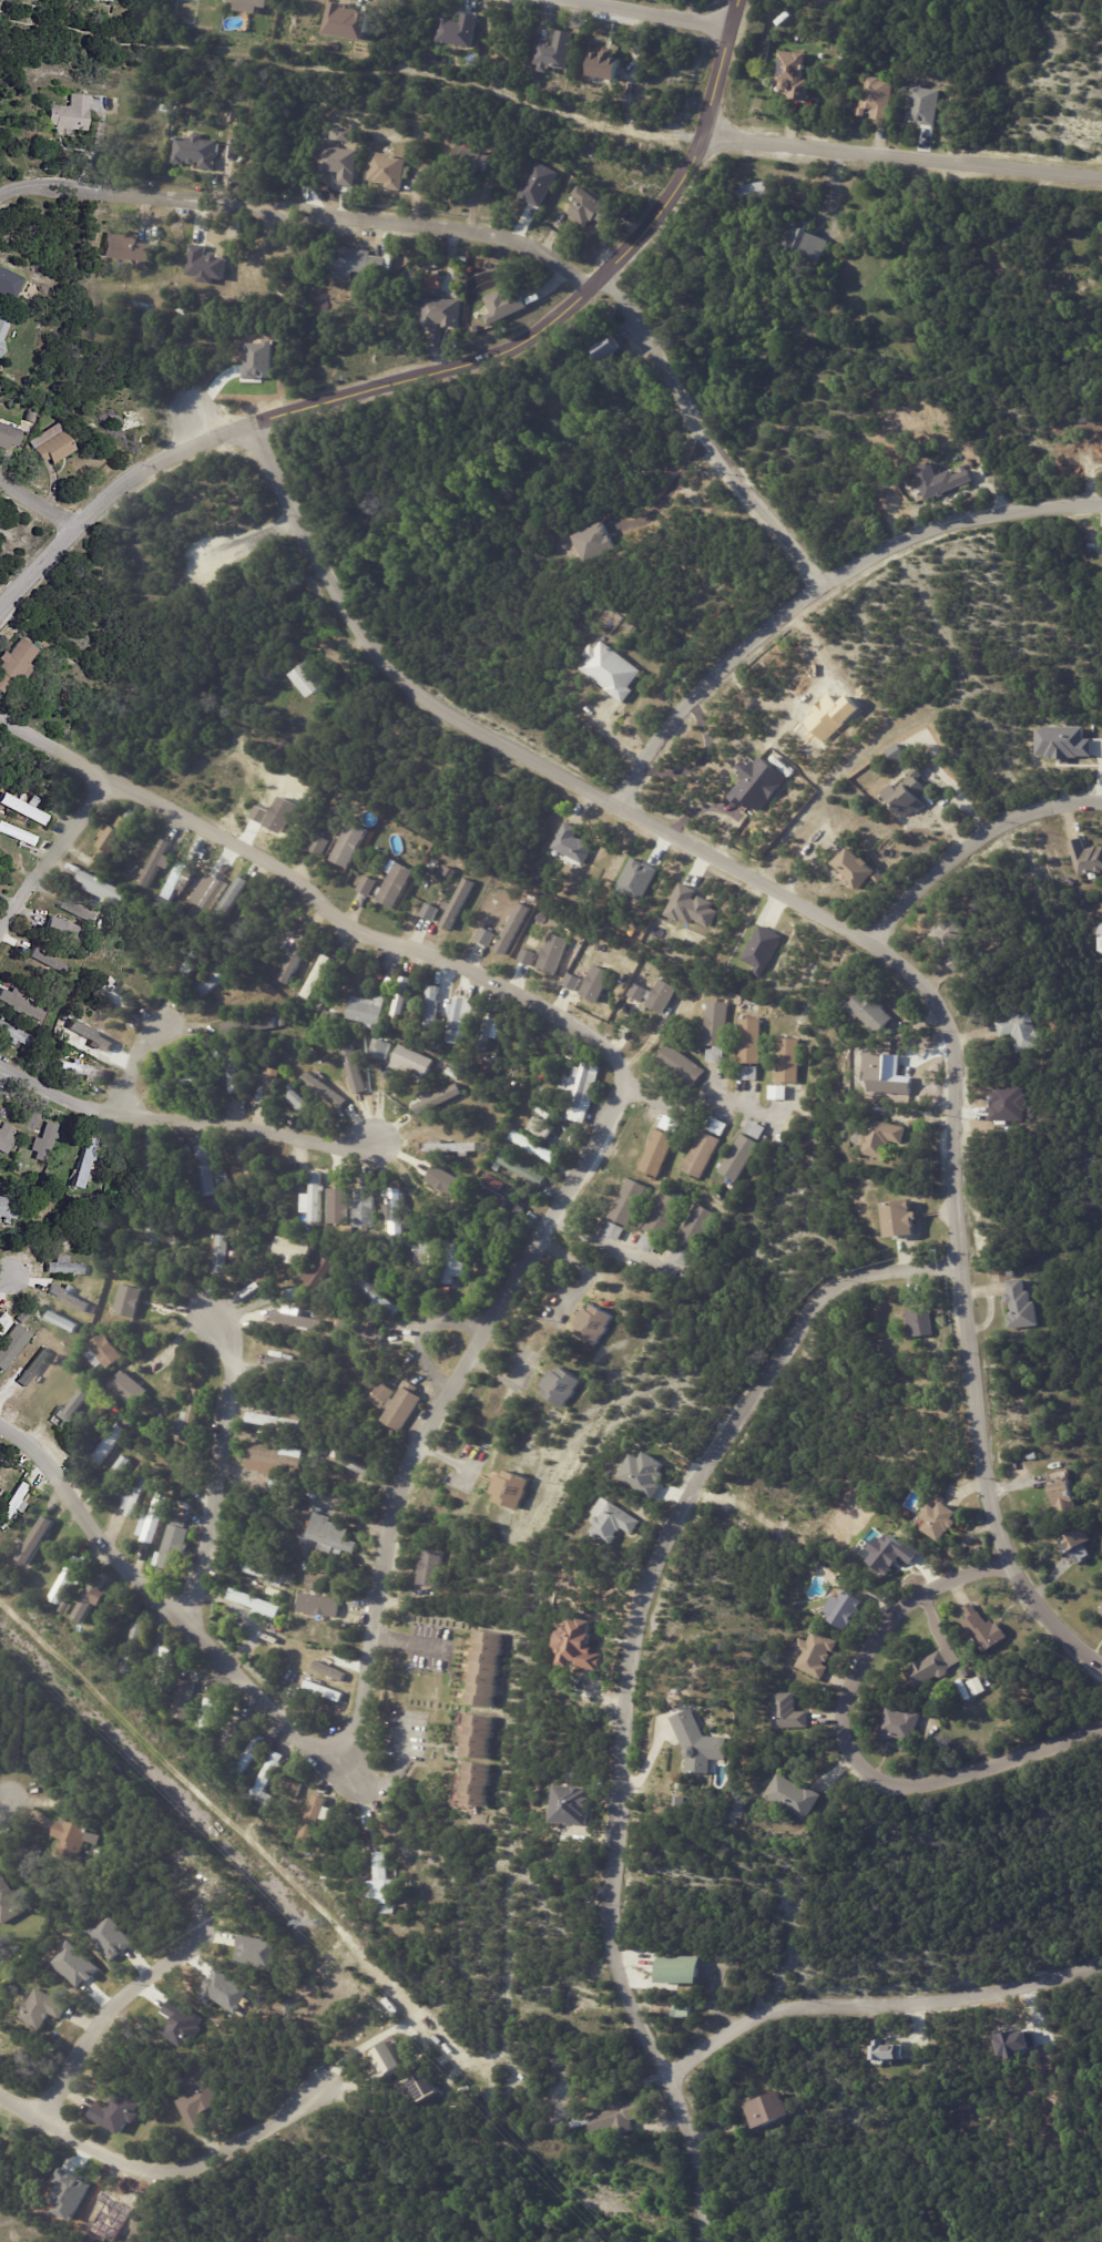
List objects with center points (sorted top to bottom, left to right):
building: (252, 6)
road: (655, 12)
building: (354, 23)
building: (458, 30)
building: (558, 52)
building: (819, 55)
building: (604, 65)
building: (792, 75)
building: (875, 99)
building: (167, 109)
building: (71, 114)
building: (196, 152)
building: (233, 153)
building: (473, 161)
road: (905, 161)
building: (390, 171)
building: (537, 183)
building: (756, 191)
building: (590, 208)
road: (299, 212)
building: (548, 221)
building: (808, 244)
building: (129, 248)
building: (359, 263)
building: (204, 264)
building: (432, 281)
building: (9, 283)
building: (146, 288)
building: (506, 306)
building: (443, 314)
building: (3, 331)
building: (610, 349)
road: (438, 369)
building: (562, 388)
building: (29, 418)
road: (716, 433)
building: (9, 439)
building: (53, 446)
building: (943, 479)
road: (676, 480)
road: (38, 505)
road: (249, 533)
road: (824, 591)
building: (633, 628)
building: (16, 663)
building: (612, 672)
building: (319, 676)
building: (309, 679)
building: (1060, 743)
building: (896, 751)
building: (757, 785)
building: (910, 794)
building: (34, 800)
building: (23, 809)
building: (17, 835)
building: (115, 839)
building: (415, 840)
building: (574, 843)
building: (323, 844)
building: (350, 844)
road: (52, 850)
road: (975, 851)
building: (1085, 858)
building: (159, 861)
building: (859, 867)
building: (537, 878)
building: (183, 880)
building: (370, 885)
building: (397, 885)
building: (106, 891)
building: (233, 897)
building: (460, 904)
building: (690, 907)
building: (78, 911)
building: (429, 911)
building: (516, 929)
building: (64, 932)
building: (486, 935)
road: (857, 935)
building: (948, 942)
building: (1099, 942)
building: (761, 949)
building: (552, 953)
building: (295, 958)
building: (49, 962)
building: (194, 964)
building: (317, 976)
building: (221, 979)
building: (595, 983)
building: (661, 995)
building: (121, 999)
building: (402, 1001)
building: (22, 1005)
building: (322, 1006)
building: (341, 1007)
building: (368, 1011)
building: (433, 1011)
building: (875, 1012)
building: (461, 1024)
building: (720, 1024)
building: (242, 1025)
building: (491, 1028)
building: (1016, 1032)
building: (16, 1035)
building: (751, 1042)
building: (384, 1048)
building: (287, 1051)
building: (208, 1056)
building: (718, 1056)
building: (262, 1061)
building: (790, 1061)
building: (414, 1063)
building: (443, 1065)
building: (685, 1066)
road: (133, 1068)
building: (354, 1068)
building: (82, 1071)
building: (236, 1073)
building: (752, 1073)
building: (225, 1075)
building: (192, 1081)
building: (272, 1088)
building: (324, 1089)
building: (581, 1092)
building: (782, 1093)
building: (438, 1097)
road: (696, 1100)
building: (303, 1102)
road: (181, 1119)
building: (673, 1125)
building: (720, 1127)
building: (544, 1128)
building: (756, 1129)
building: (7, 1138)
building: (882, 1138)
building: (49, 1143)
building: (453, 1147)
building: (535, 1147)
building: (660, 1153)
building: (705, 1155)
building: (743, 1157)
building: (86, 1163)
building: (154, 1166)
building: (20, 1167)
building: (500, 1167)
building: (206, 1168)
building: (522, 1169)
building: (234, 1170)
building: (442, 1179)
building: (496, 1183)
building: (0, 1187)
building: (316, 1198)
building: (504, 1201)
building: (629, 1204)
building: (338, 1206)
building: (367, 1208)
building: (10, 1209)
building: (396, 1212)
building: (663, 1215)
building: (907, 1216)
building: (695, 1228)
building: (614, 1231)
building: (156, 1232)
building: (424, 1239)
building: (647, 1241)
road: (606, 1243)
building: (480, 1248)
building: (295, 1251)
building: (93, 1253)
building: (676, 1256)
building: (456, 1263)
building: (424, 1265)
building: (65, 1268)
building: (1011, 1274)
building: (318, 1276)
road: (2, 1278)
building: (251, 1280)
road: (509, 1289)
building: (296, 1296)
building: (67, 1297)
building: (127, 1300)
building: (381, 1300)
building: (1018, 1307)
building: (922, 1314)
building: (3, 1320)
building: (63, 1322)
building: (596, 1325)
building: (364, 1331)
road: (421, 1332)
building: (13, 1345)
building: (105, 1352)
building: (294, 1363)
building: (133, 1373)
building: (565, 1388)
building: (381, 1395)
building: (155, 1407)
building: (404, 1407)
building: (70, 1412)
building: (194, 1417)
building: (275, 1421)
building: (129, 1422)
building: (112, 1445)
building: (277, 1458)
building: (357, 1465)
building: (149, 1470)
road: (213, 1472)
building: (118, 1473)
building: (642, 1473)
building: (161, 1484)
building: (284, 1488)
building: (516, 1491)
building: (137, 1498)
building: (1060, 1498)
building: (12, 1506)
building: (288, 1506)
building: (156, 1519)
building: (614, 1521)
building: (943, 1521)
building: (183, 1522)
building: (334, 1537)
building: (40, 1540)
building: (1072, 1542)
building: (175, 1549)
building: (890, 1553)
building: (431, 1569)
building: (54, 1575)
building: (266, 1575)
building: (70, 1579)
building: (325, 1580)
building: (292, 1581)
building: (318, 1604)
building: (259, 1606)
building: (848, 1609)
building: (1100, 1610)
building: (1101, 1613)
building: (987, 1630)
road: (405, 1640)
building: (579, 1646)
building: (136, 1648)
building: (816, 1655)
building: (163, 1666)
building: (488, 1668)
building: (936, 1668)
building: (329, 1670)
building: (967, 1673)
road: (637, 1677)
building: (326, 1692)
building: (187, 1699)
building: (790, 1712)
building: (931, 1712)
building: (212, 1719)
building: (902, 1724)
building: (234, 1732)
building: (480, 1736)
building: (701, 1743)
road: (853, 1751)
building: (251, 1757)
building: (267, 1775)
road: (382, 1783)
building: (479, 1783)
building: (295, 1788)
building: (796, 1798)
building: (272, 1800)
building: (296, 1802)
building: (578, 1805)
road: (4, 1808)
building: (743, 1808)
building: (313, 1818)
building: (74, 1835)
building: (373, 1860)
building: (371, 1871)
building: (387, 1881)
building: (8, 1902)
power tower: (320, 1924)
building: (108, 1937)
building: (255, 1951)
building: (681, 1969)
road: (876, 2000)
road: (110, 2004)
building: (45, 2009)
building: (684, 2010)
building: (886, 2050)
building: (392, 2060)
building: (422, 2086)
building: (198, 2105)
building: (761, 2107)
building: (118, 2115)
building: (620, 2118)
building: (583, 2123)
building: (0, 2142)
road: (170, 2161)

